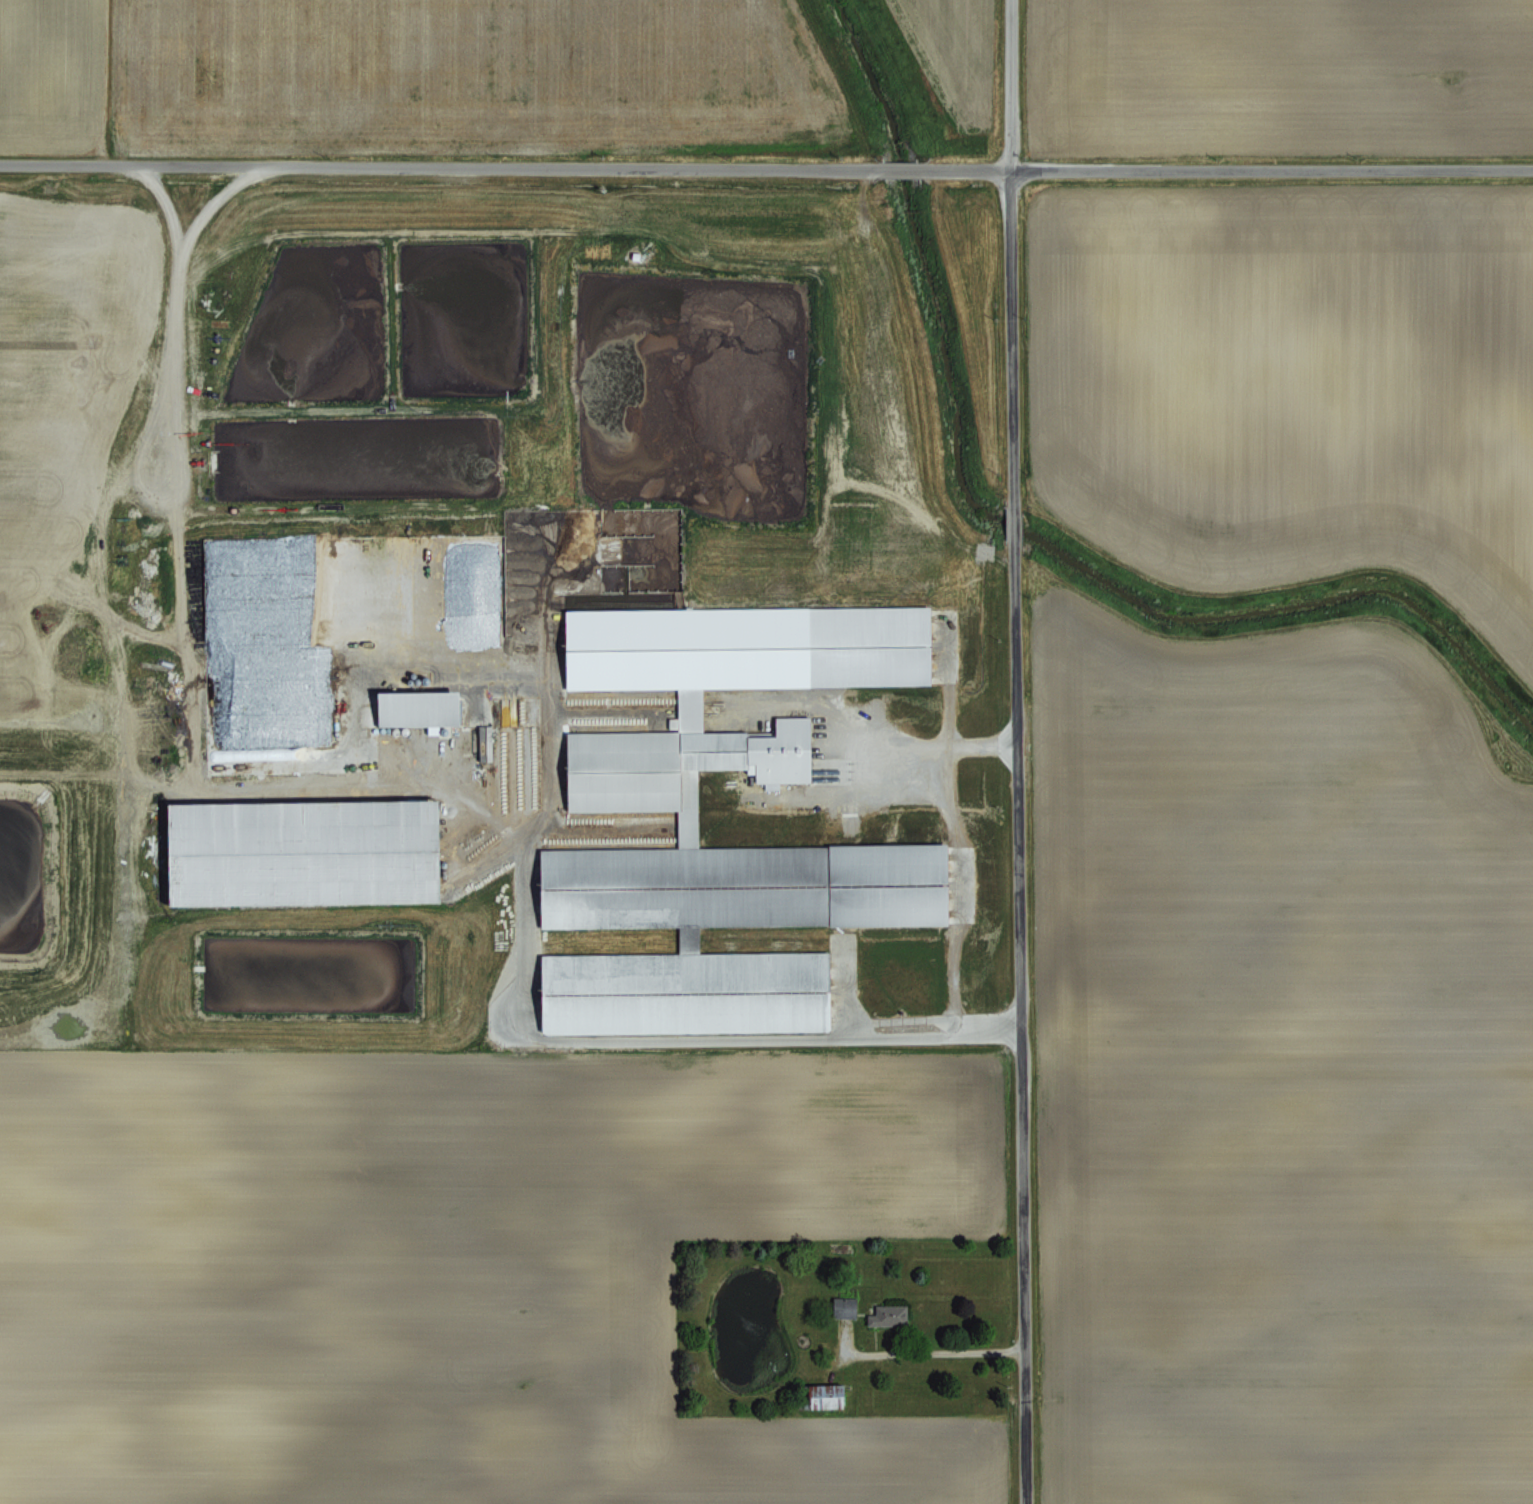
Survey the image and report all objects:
road: (766, 166)
road: (1007, 259)
road: (174, 470)
road: (1011, 530)
building: (421, 706)
building: (484, 740)
road: (938, 743)
building: (687, 825)
road: (963, 914)
road: (517, 979)
road: (1017, 1022)
building: (843, 1305)
building: (887, 1314)
road: (927, 1348)
building: (829, 1400)

